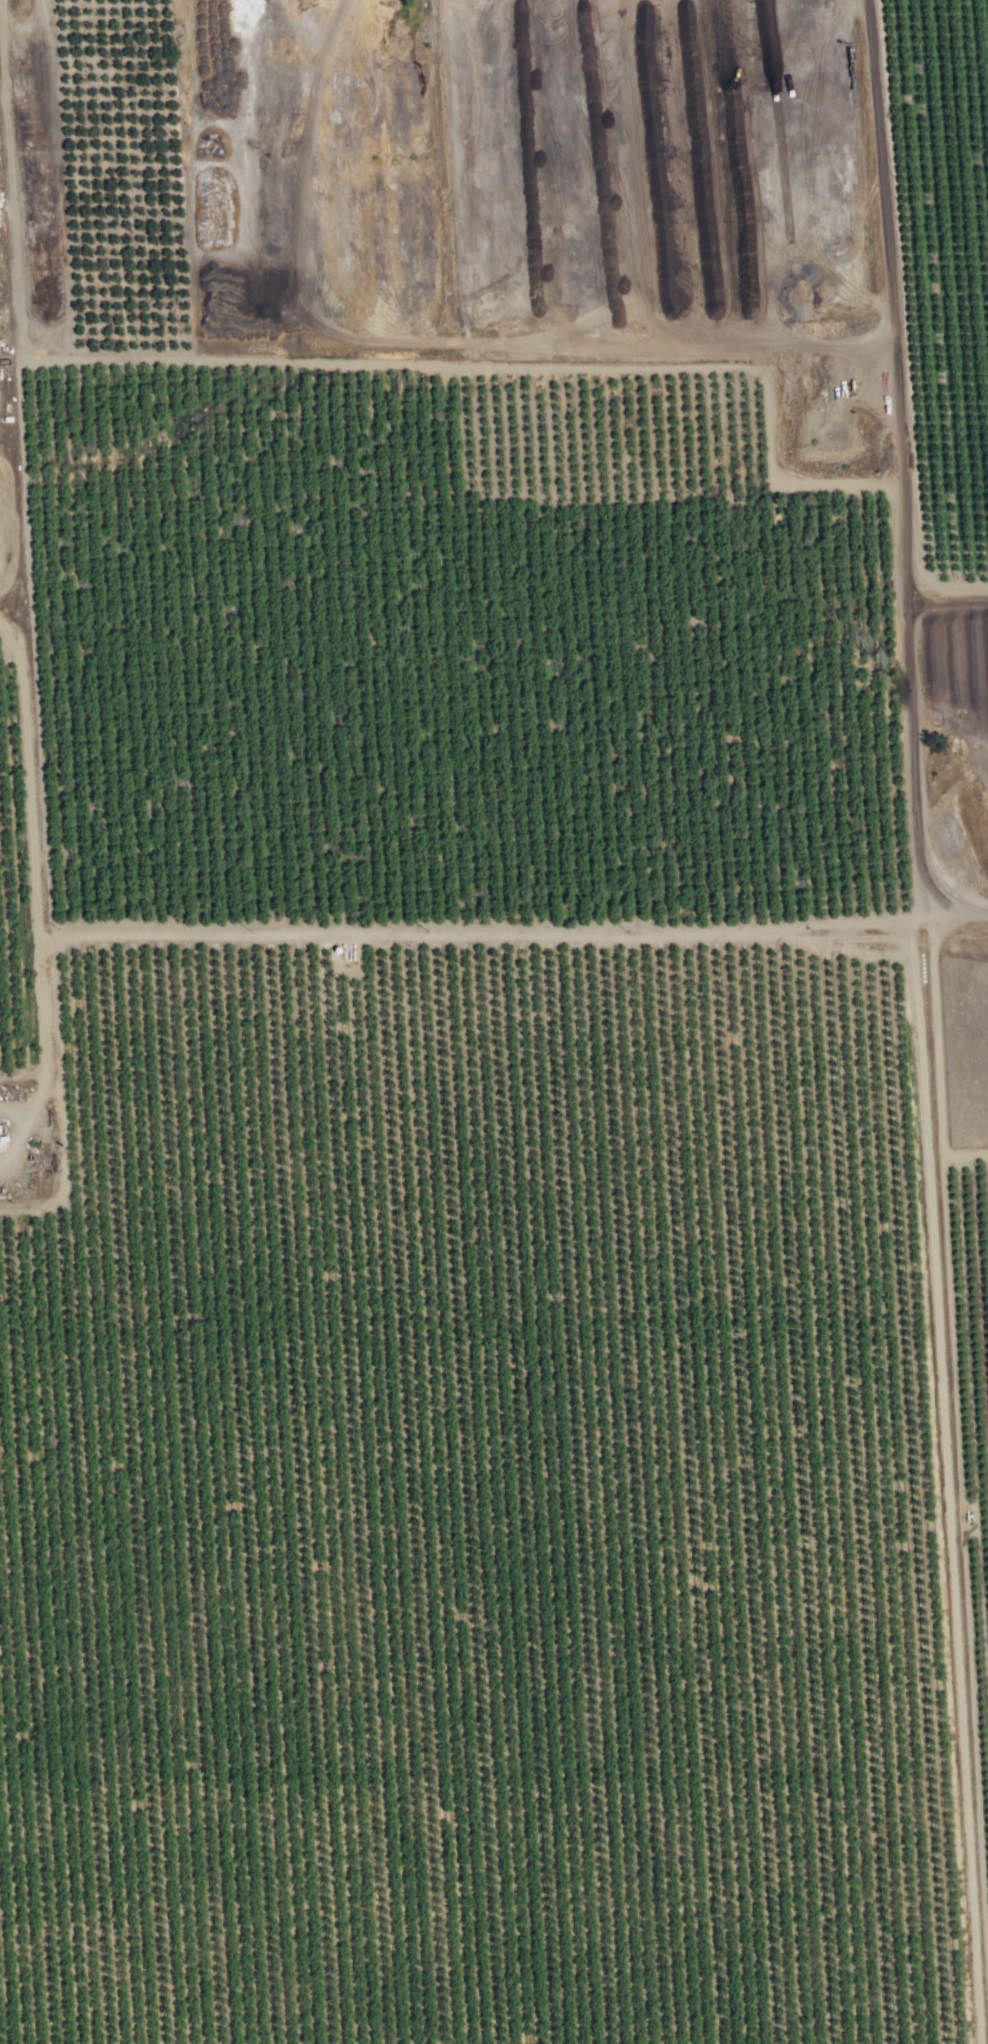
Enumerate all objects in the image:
road: (418, 935)

